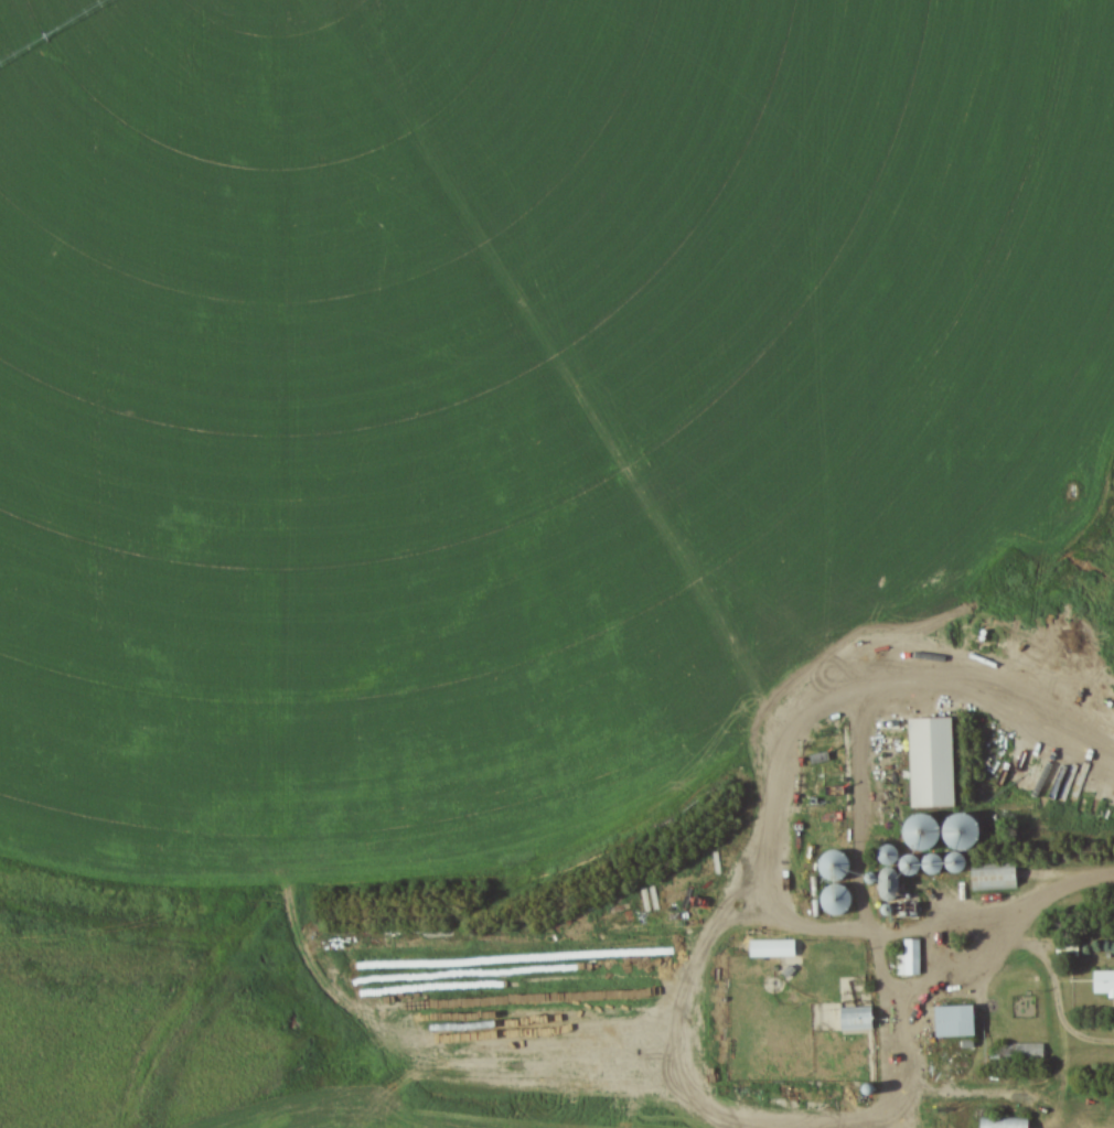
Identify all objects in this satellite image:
building: (926, 762)
building: (955, 831)
building: (910, 832)
building: (882, 855)
building: (832, 864)
building: (989, 879)
building: (887, 880)
building: (833, 900)
road: (1021, 945)
building: (769, 948)
building: (910, 957)
building: (1101, 984)
building: (853, 1019)
building: (950, 1021)
building: (625, 1038)
building: (1024, 1052)
building: (1001, 1122)

